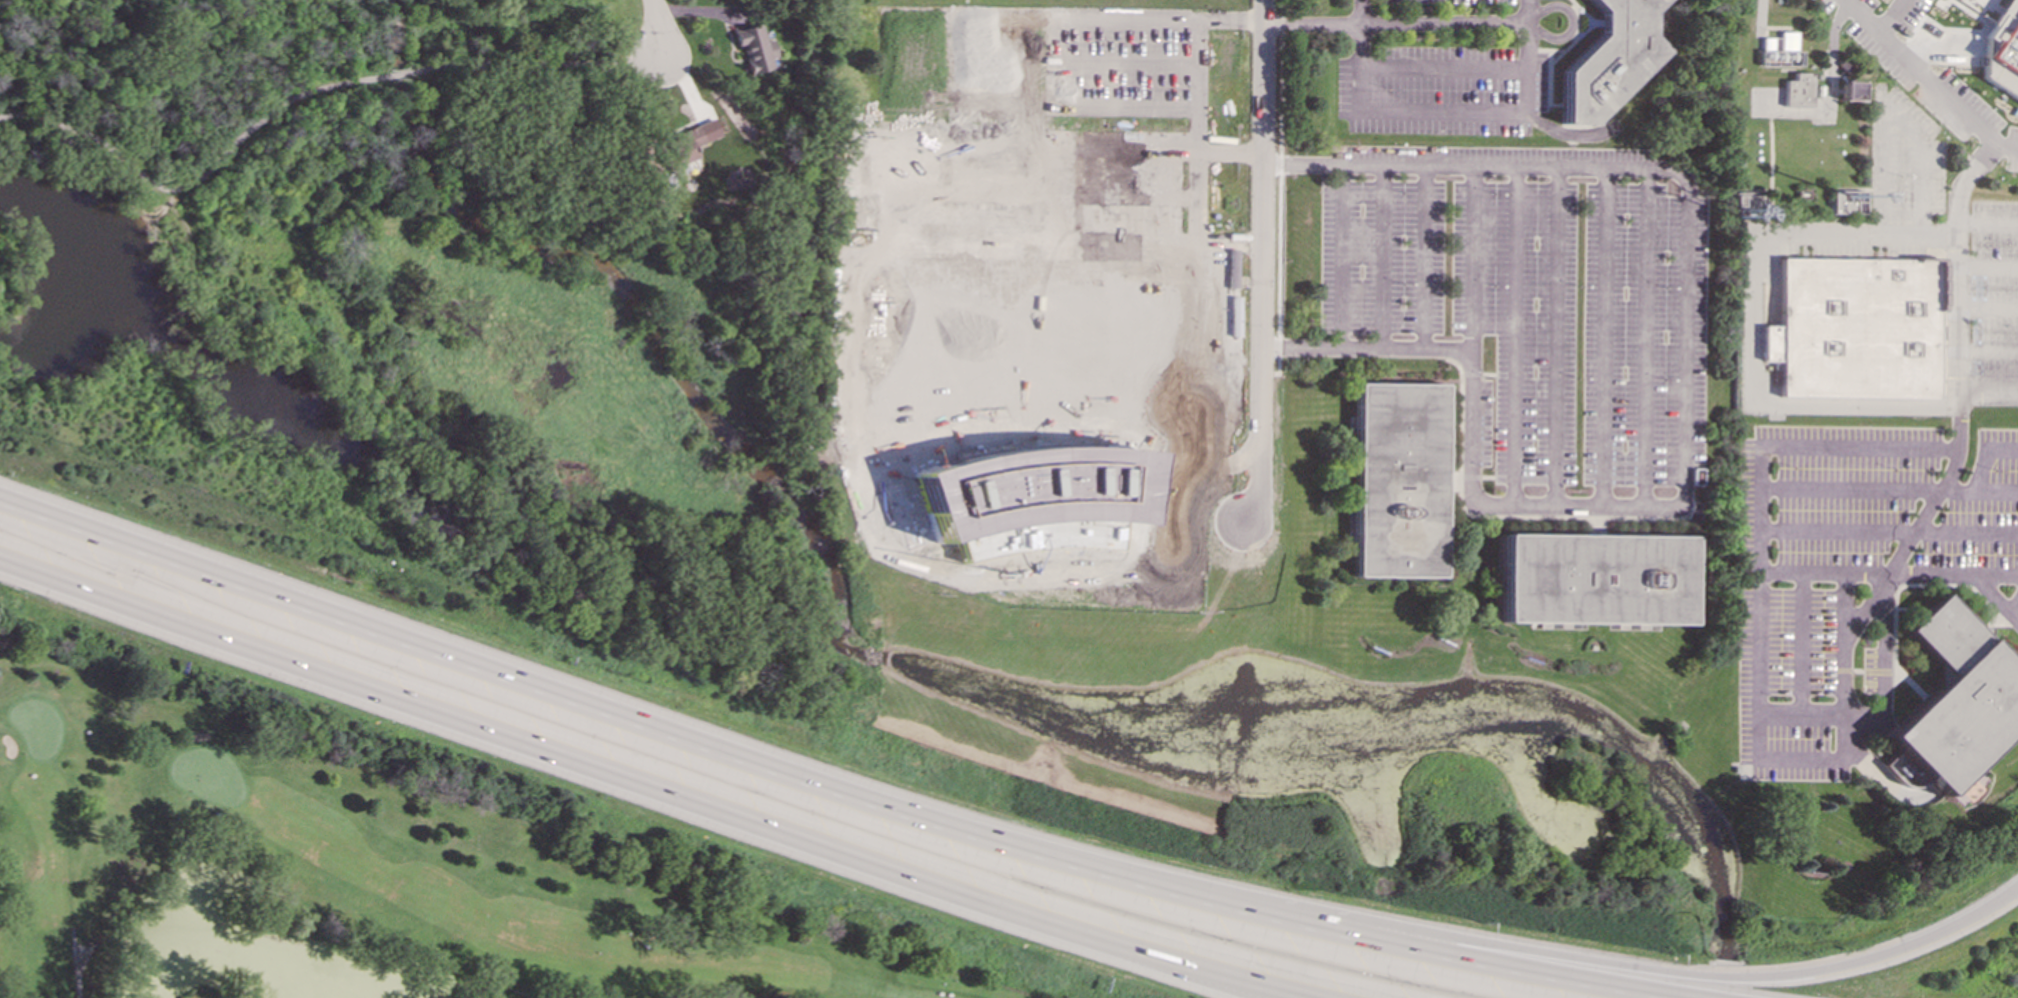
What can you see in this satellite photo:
road: (1354, 11)
road: (1895, 19)
road: (1310, 23)
road: (1437, 23)
road: (657, 27)
building: (2003, 49)
building: (756, 50)
building: (1779, 50)
building: (1608, 60)
road: (535, 66)
road: (1439, 66)
road: (1919, 72)
road: (399, 74)
parking lot: (1927, 75)
building: (1799, 90)
building: (1851, 91)
road: (1452, 114)
road: (1897, 123)
building: (683, 145)
road: (2007, 148)
road: (199, 180)
road: (1207, 180)
building: (1848, 201)
building: (1749, 204)
road: (1030, 227)
road: (1338, 257)
road: (1379, 258)
road: (1422, 258)
road: (1469, 259)
road: (1265, 261)
road: (1987, 267)
road: (1207, 268)
park: (409, 302)
parking lot: (1996, 304)
road: (1029, 317)
road: (1753, 319)
building: (1857, 327)
road: (1511, 335)
road: (1553, 336)
road: (1603, 336)
road: (1645, 337)
road: (850, 353)
road: (1055, 353)
building: (1030, 365)
road: (1253, 372)
road: (1689, 421)
building: (1395, 480)
building: (1066, 493)
road: (1924, 513)
road: (1756, 536)
road: (1821, 573)
road: (126, 577)
building: (1594, 579)
road: (2012, 615)
road: (578, 707)
building: (1958, 719)
road: (538, 748)
park: (385, 868)
road: (1393, 960)
road: (1596, 962)
road: (75, 963)
road: (1160, 967)
road: (1189, 968)

